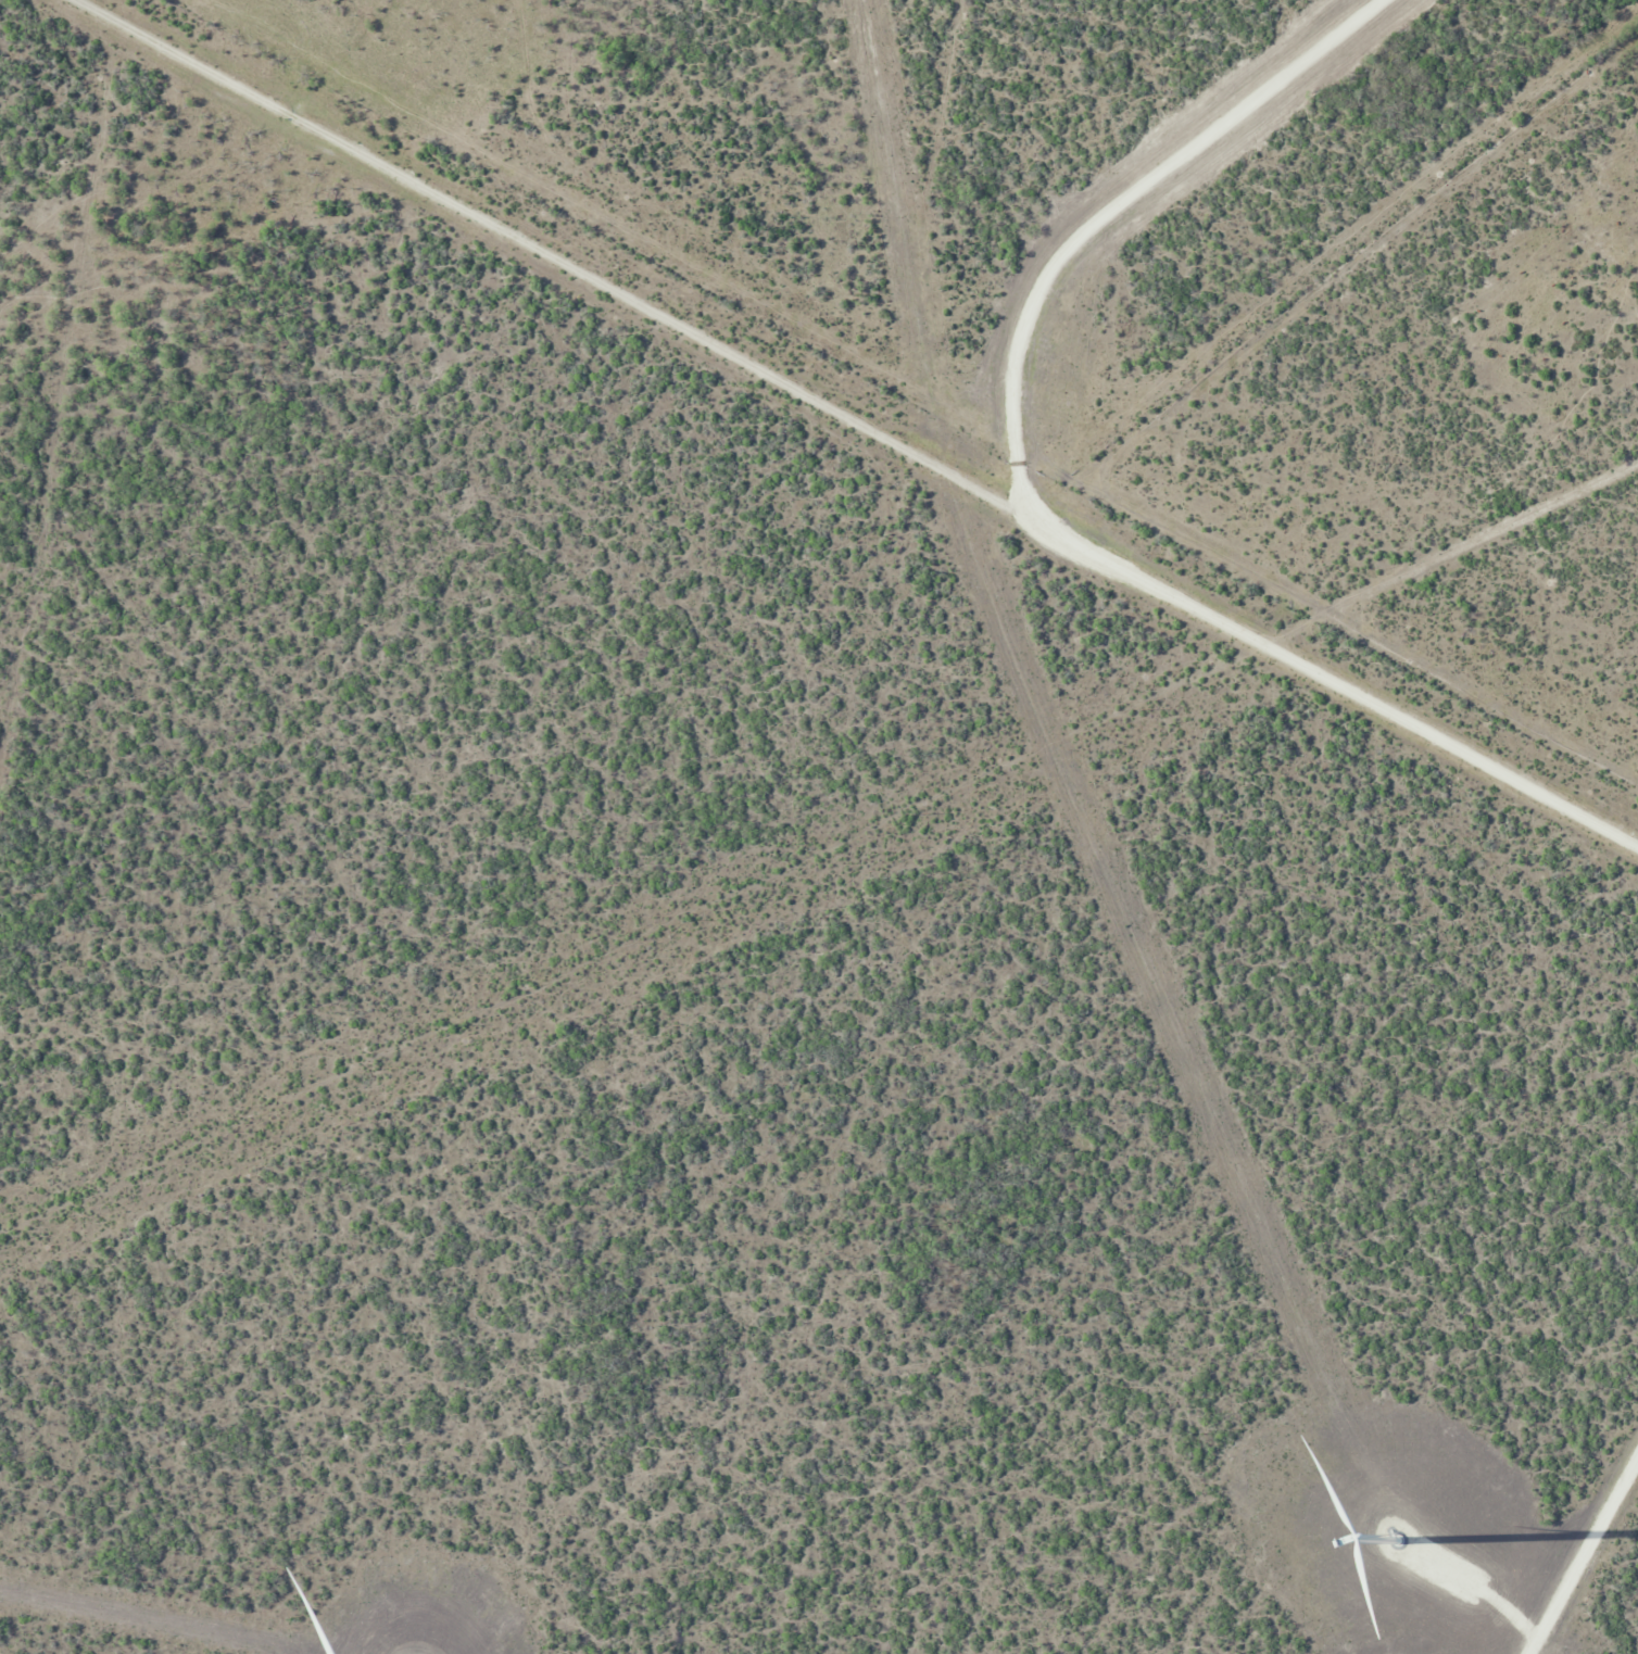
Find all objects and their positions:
road: (827, 437)
wind turbine: (1394, 1539)
road: (1605, 1596)

